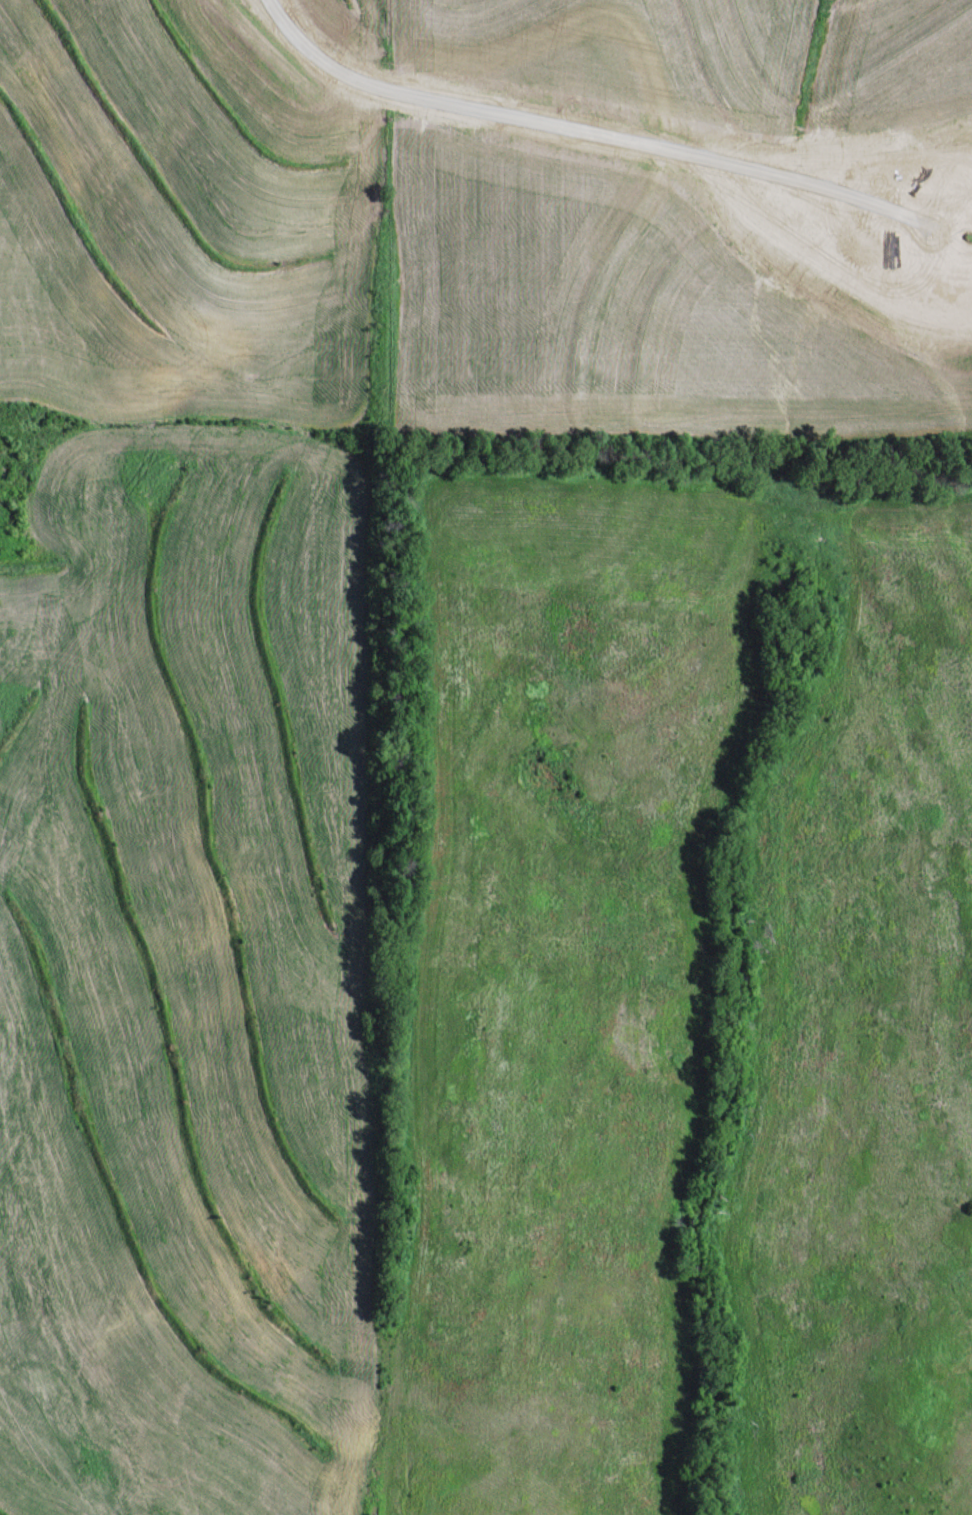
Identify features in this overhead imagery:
wind turbine: (965, 229)

